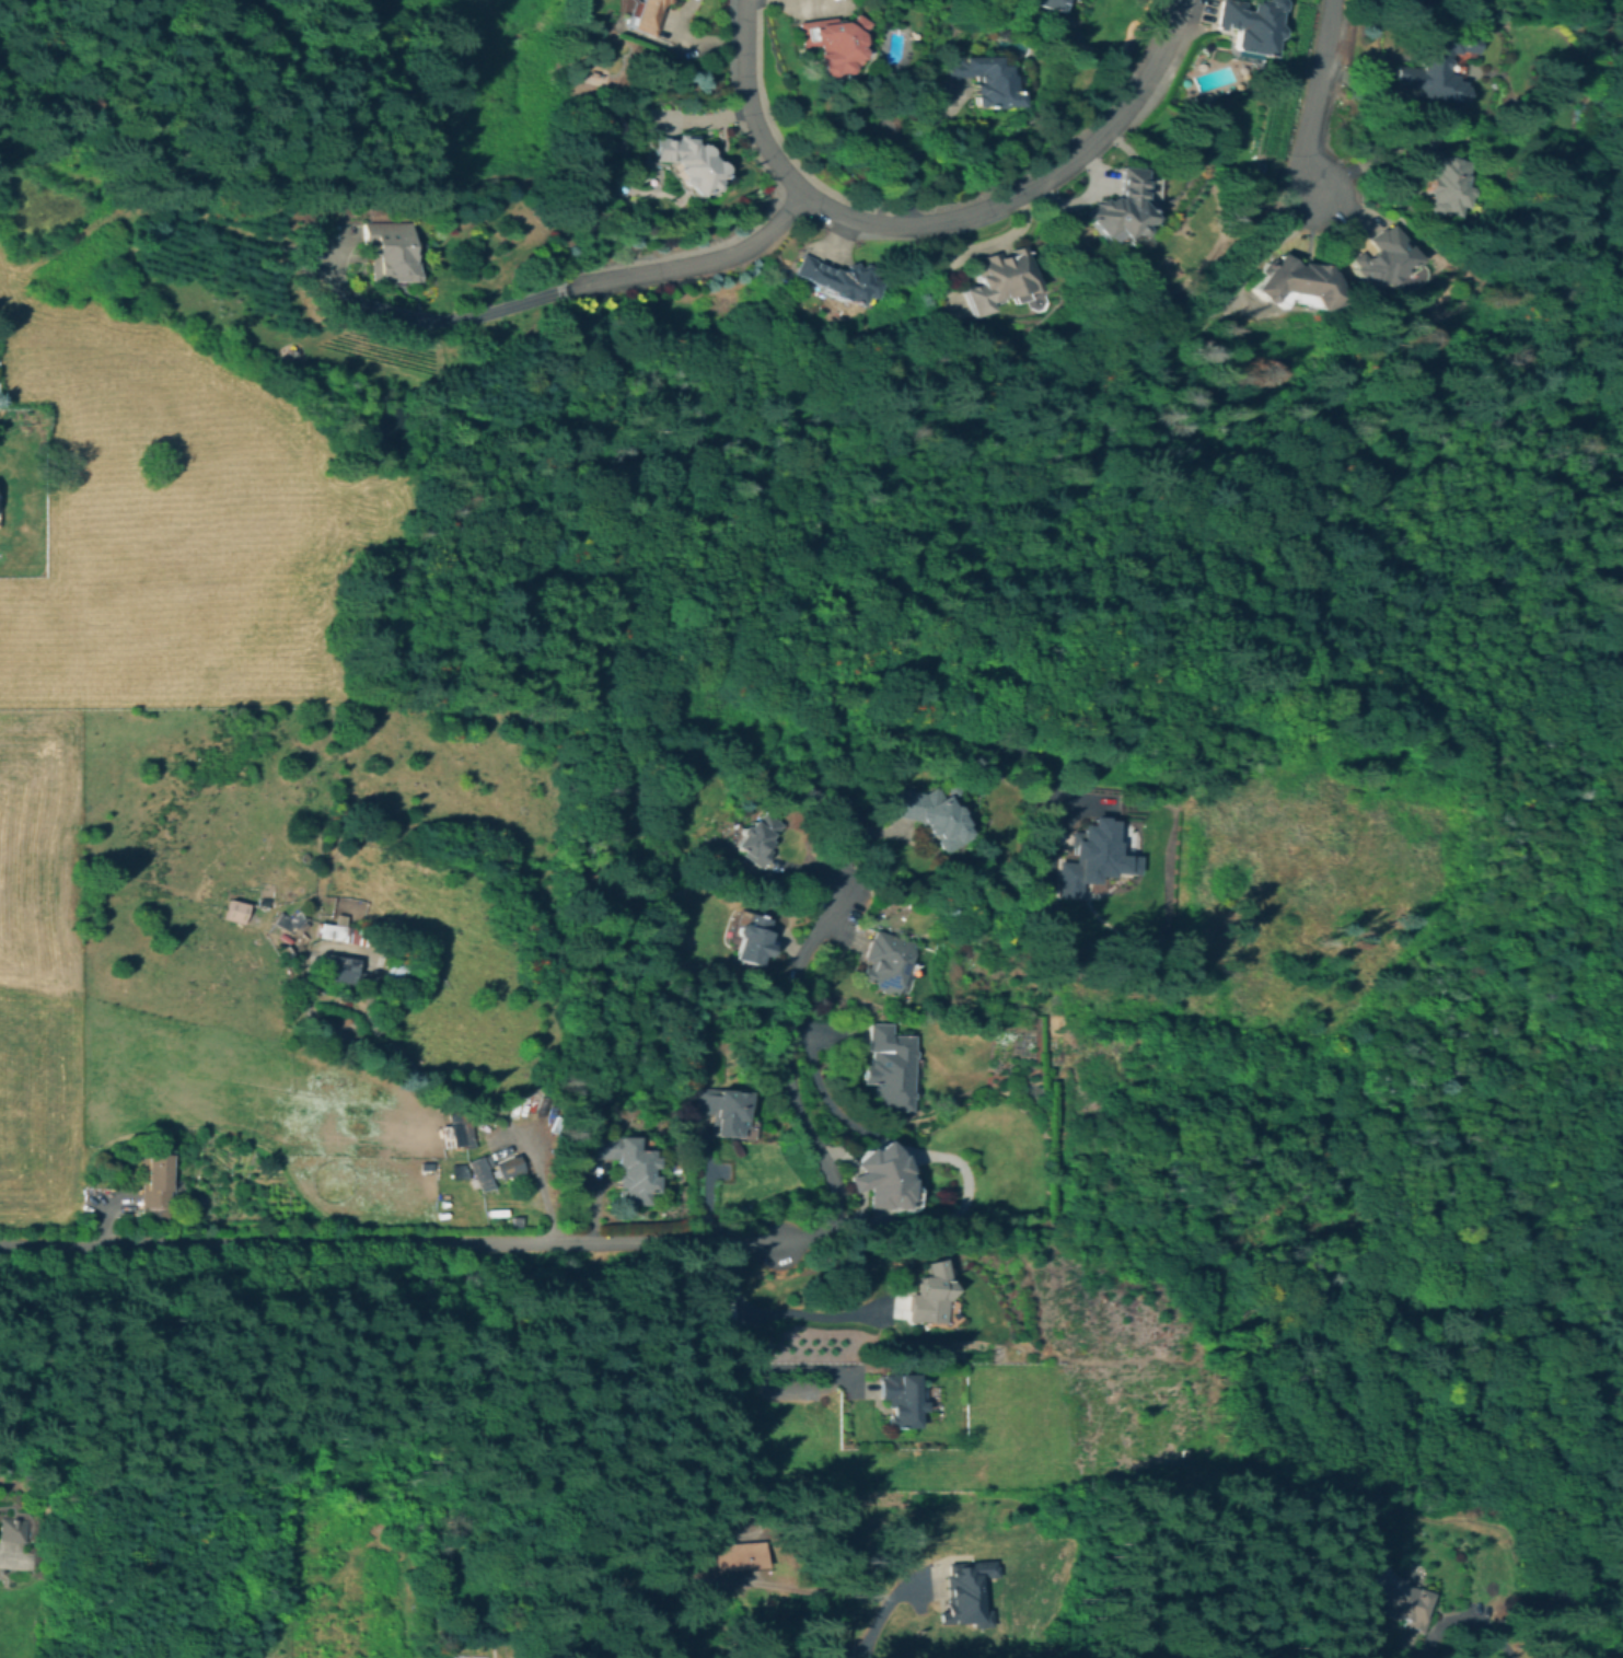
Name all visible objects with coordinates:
building: (1047, 3)
building: (642, 14)
building: (1249, 24)
building: (832, 42)
building: (1436, 67)
building: (983, 80)
road: (1315, 100)
road: (907, 153)
building: (686, 162)
building: (1256, 167)
building: (1437, 181)
building: (1120, 208)
road: (937, 222)
building: (391, 251)
road: (1620, 253)
building: (1384, 264)
building: (996, 279)
road: (602, 281)
building: (836, 281)
building: (1294, 285)
crop: (164, 523)
road: (901, 744)
building: (925, 815)
building: (754, 839)
building: (1089, 857)
building: (1622, 905)
building: (237, 911)
building: (289, 921)
building: (1622, 924)
building: (334, 931)
building: (750, 940)
building: (885, 963)
crop: (39, 969)
building: (397, 969)
building: (340, 971)
building: (891, 1066)
road: (788, 1080)
building: (722, 1111)
building: (452, 1134)
building: (1619, 1138)
building: (625, 1167)
building: (507, 1168)
building: (480, 1172)
building: (885, 1178)
building: (155, 1185)
road: (536, 1185)
road: (387, 1242)
building: (928, 1296)
road: (808, 1313)
road: (742, 1358)
building: (917, 1391)
building: (899, 1400)
building: (14, 1529)
building: (395, 1530)
road: (2, 1554)
building: (763, 1554)
building: (733, 1555)
building: (969, 1593)
building: (1398, 1597)
building: (1364, 1616)
road: (873, 1625)
road: (1484, 1625)

